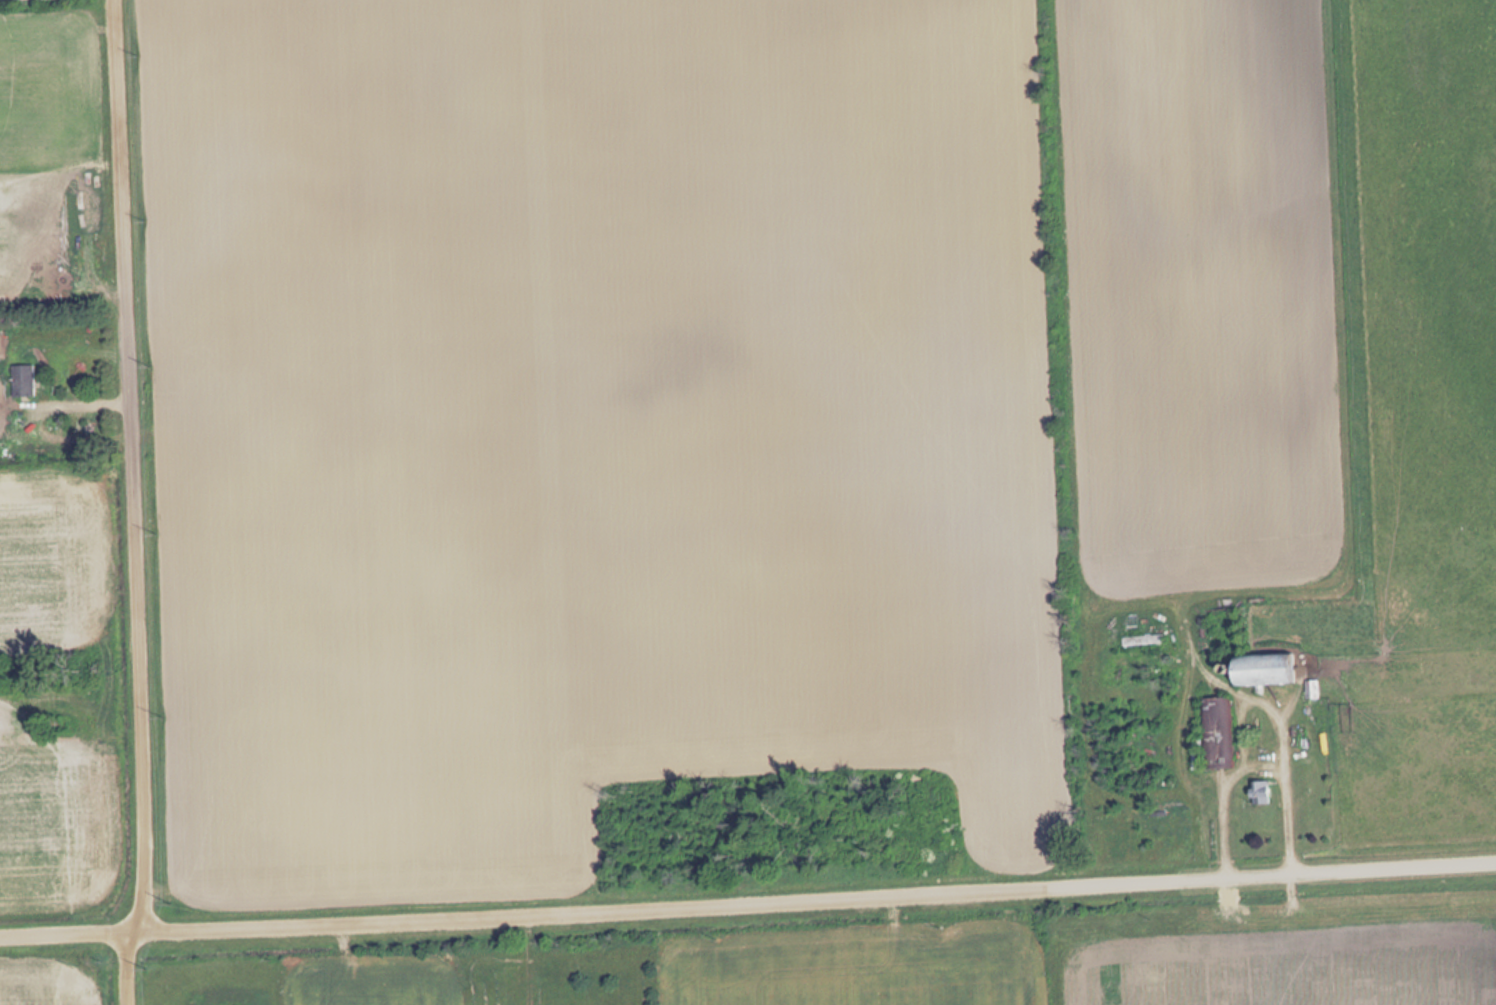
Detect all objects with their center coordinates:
building: (25, 379)
road: (127, 503)
building: (1146, 644)
building: (1270, 668)
building: (1219, 731)
building: (1264, 791)
road: (747, 904)

